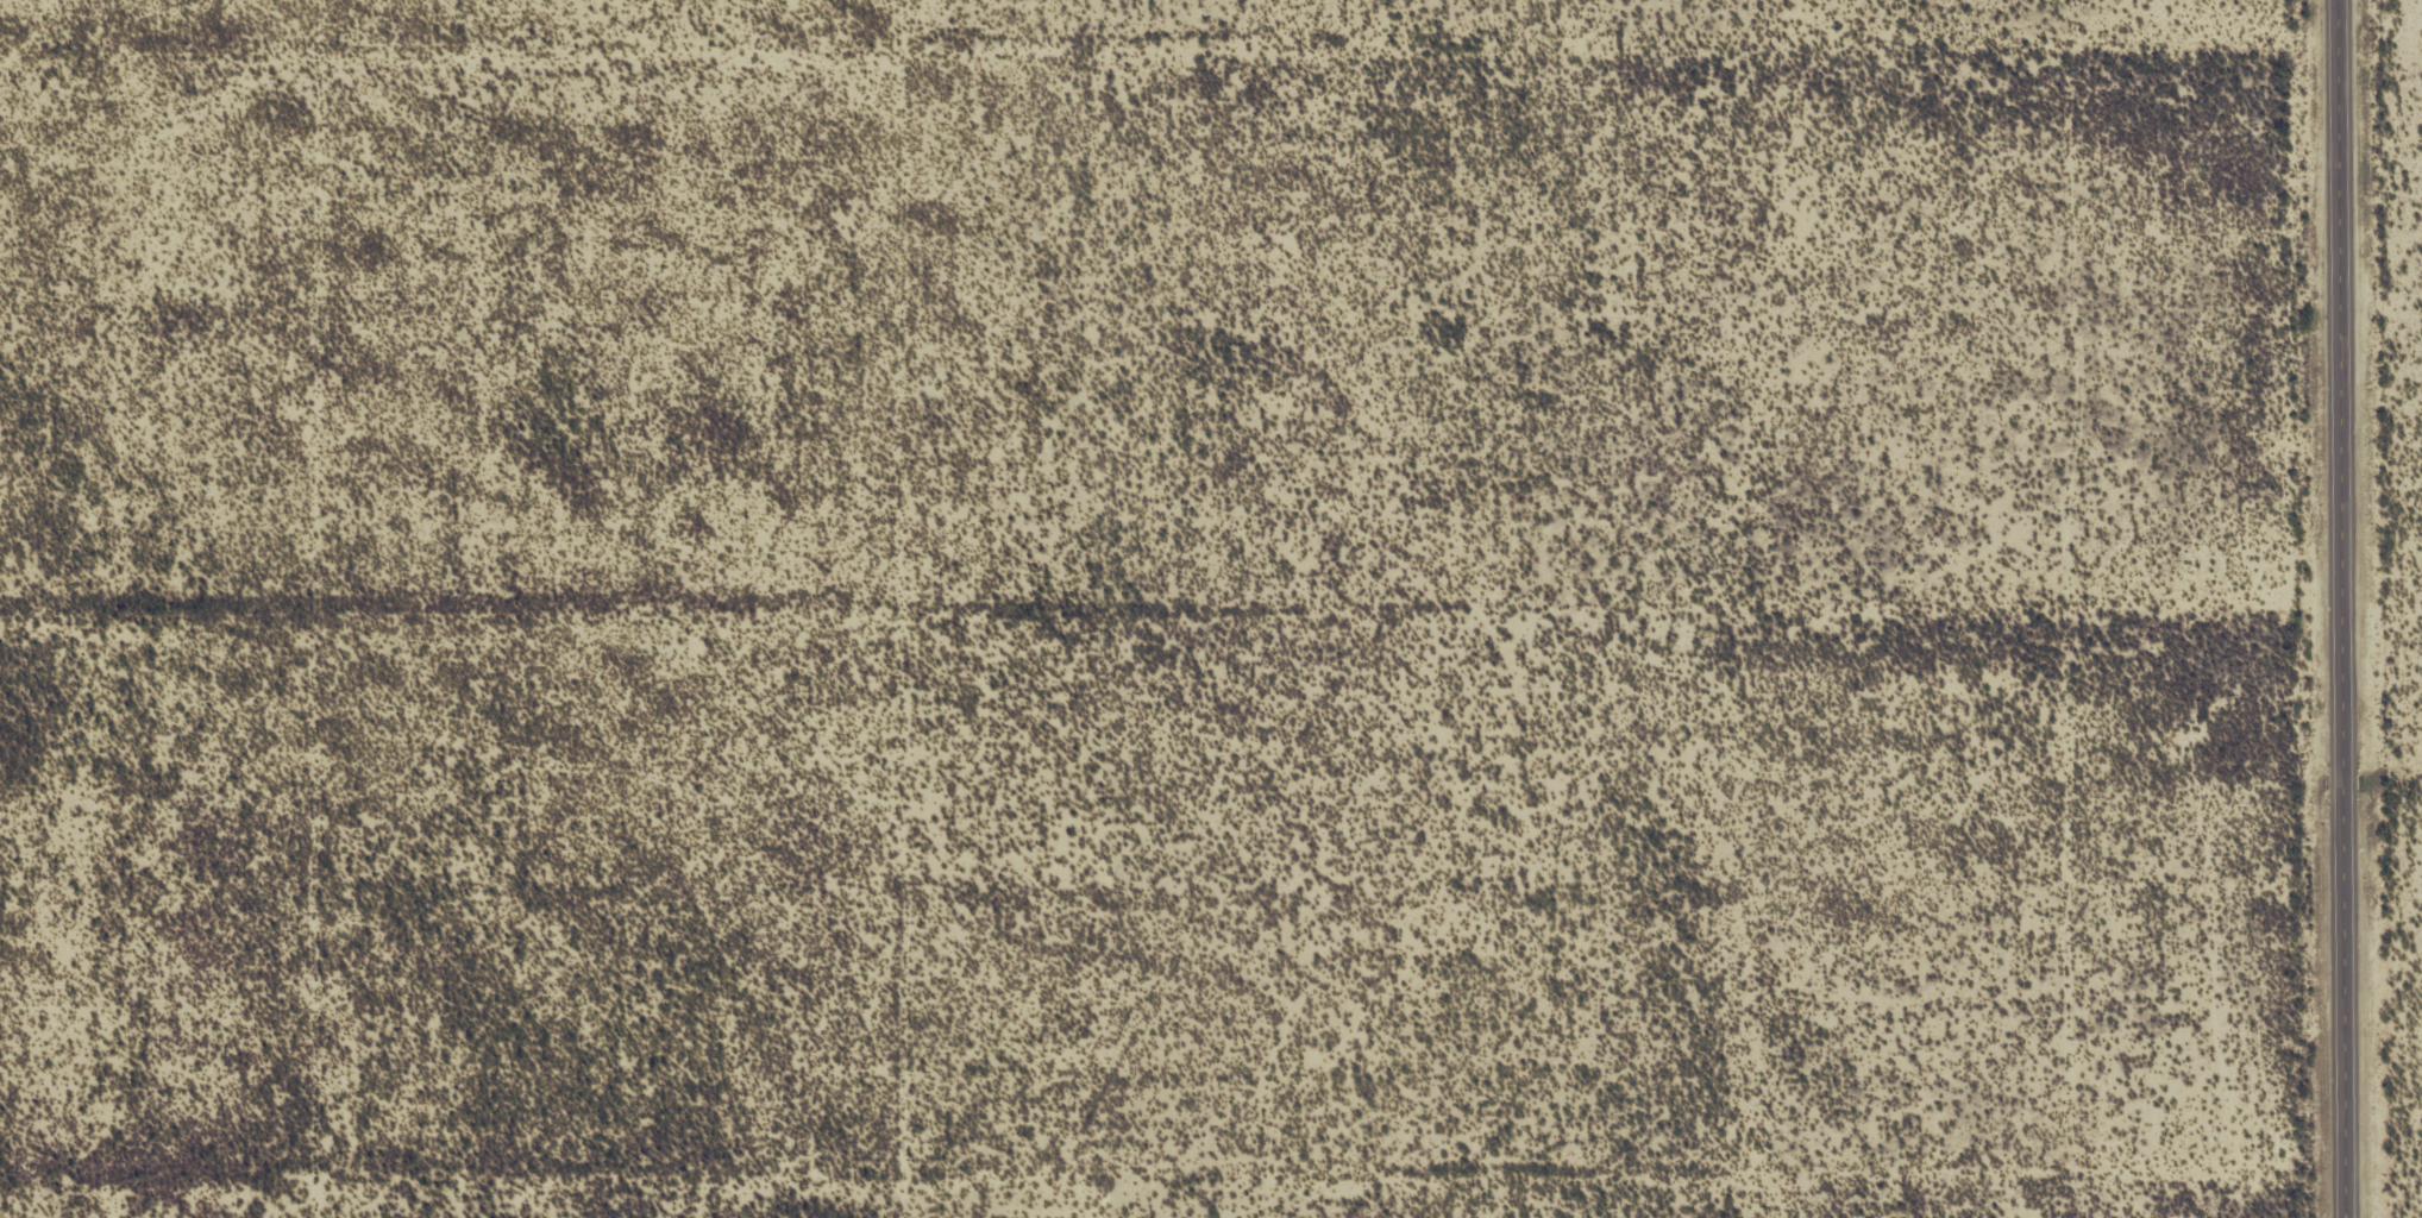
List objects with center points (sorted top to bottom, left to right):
road: (2342, 609)

